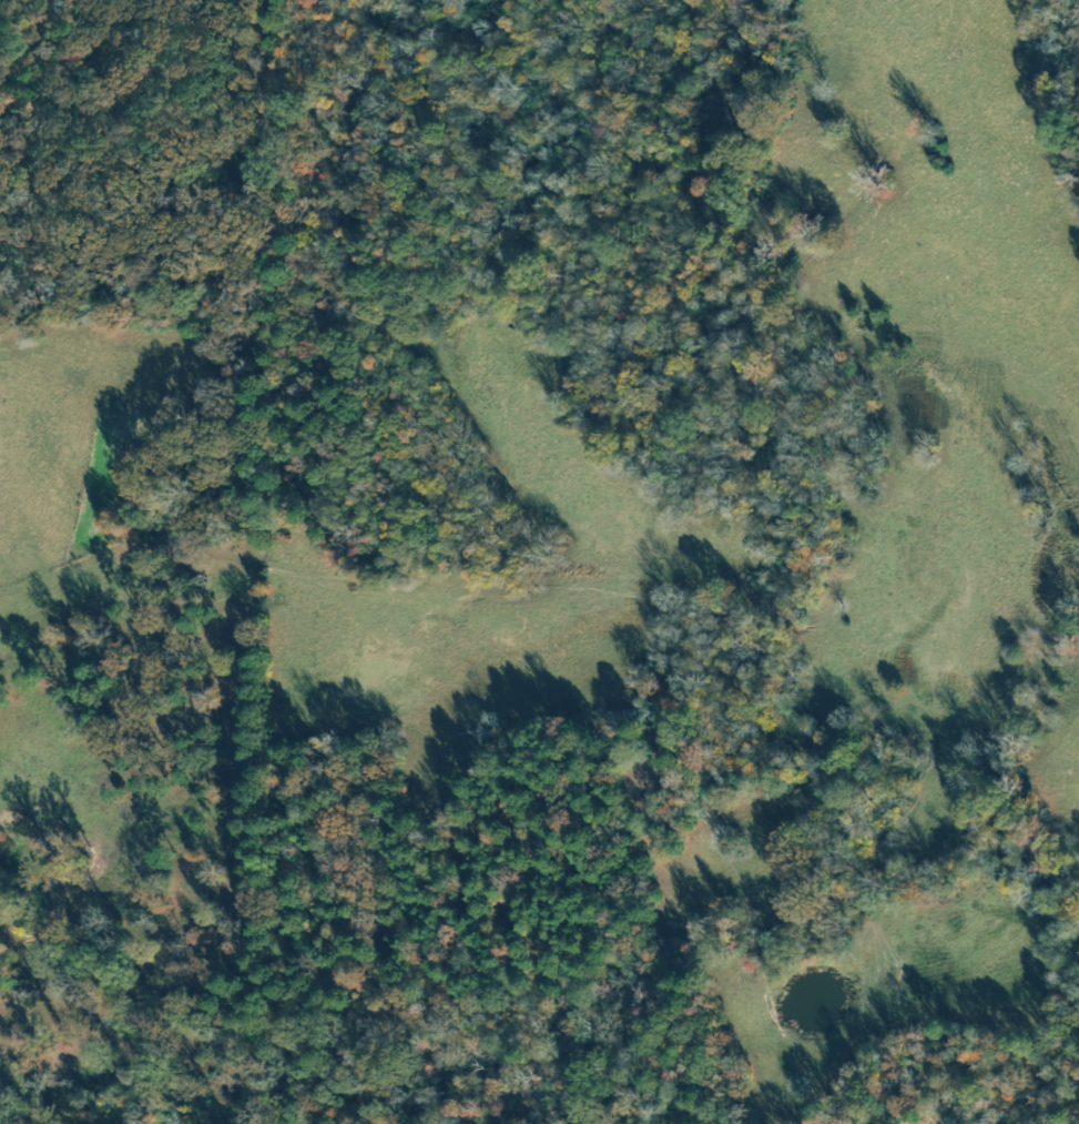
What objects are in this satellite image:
road: (1059, 44)
road: (958, 1014)

